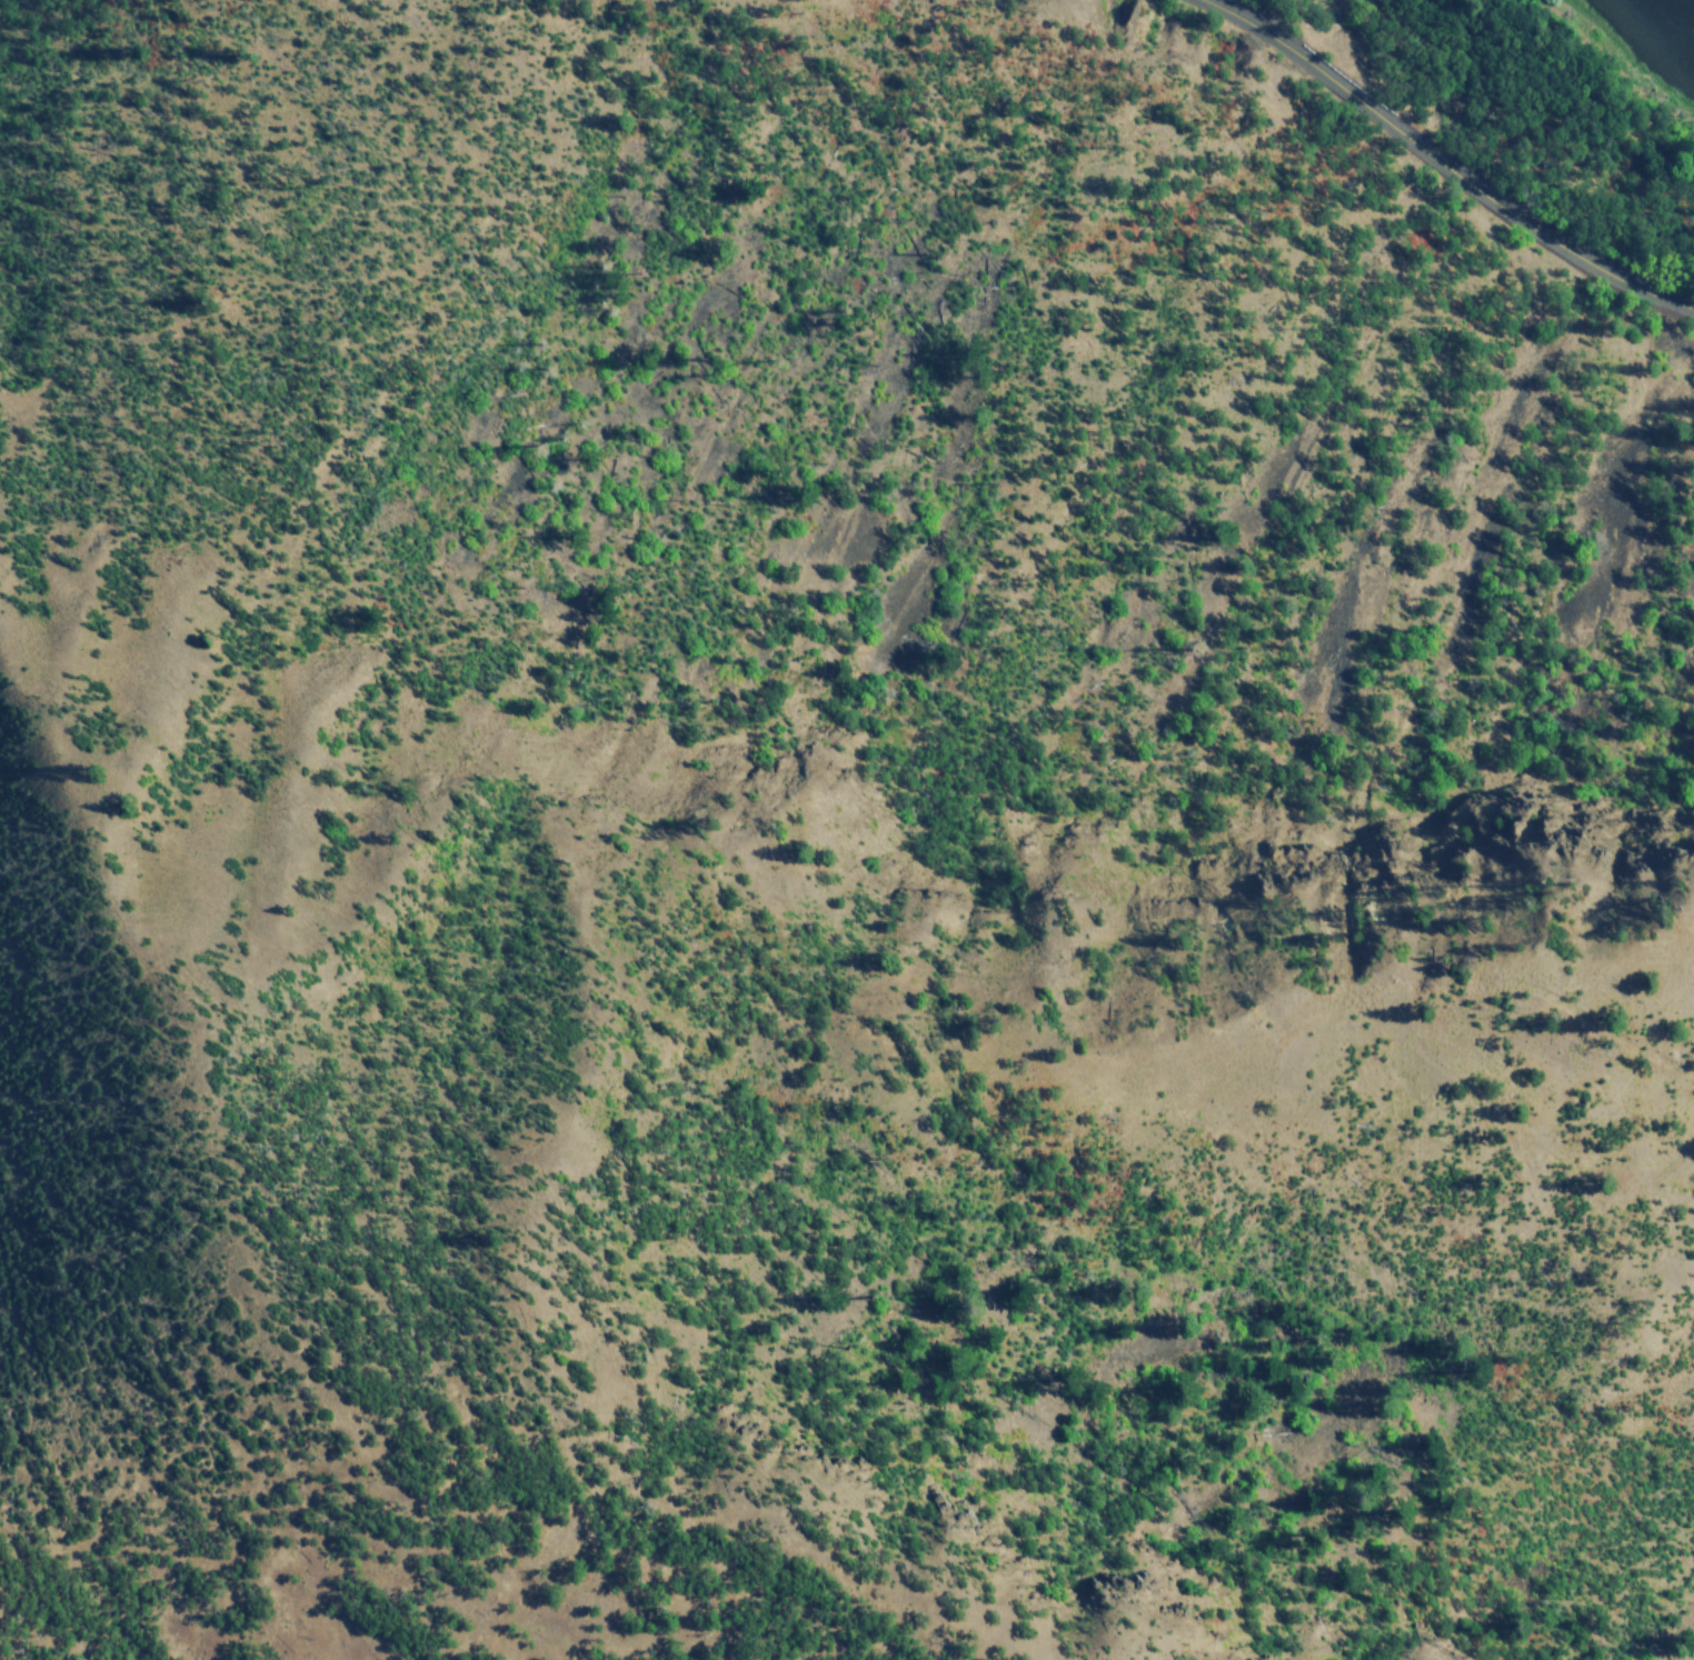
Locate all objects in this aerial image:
road: (1442, 166)

